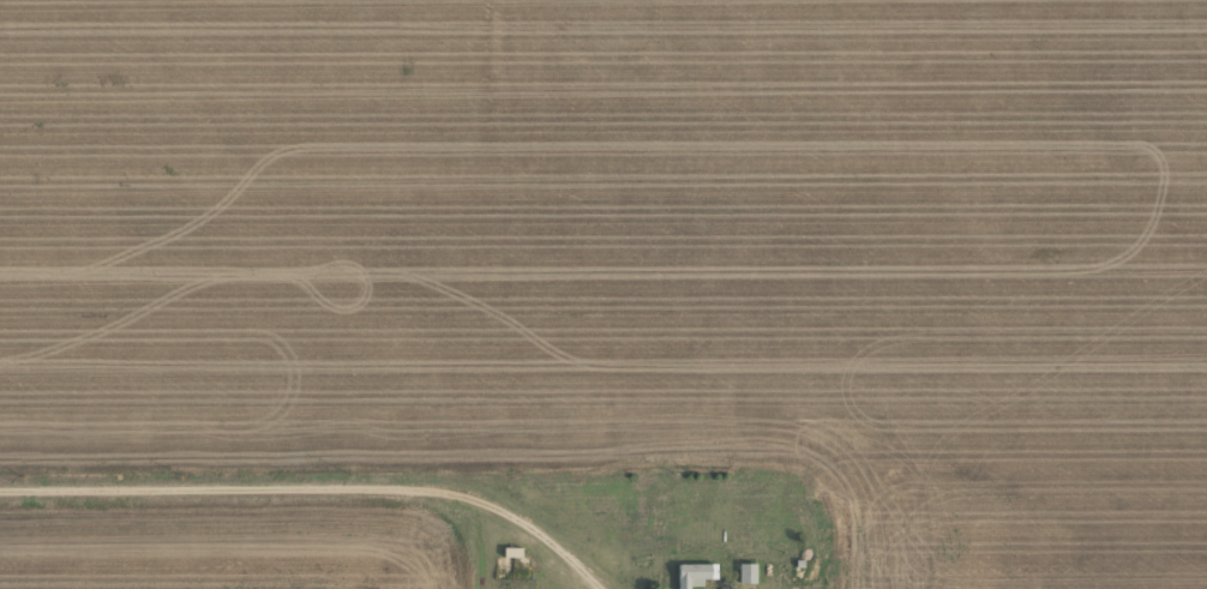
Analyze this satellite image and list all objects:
road: (326, 487)

